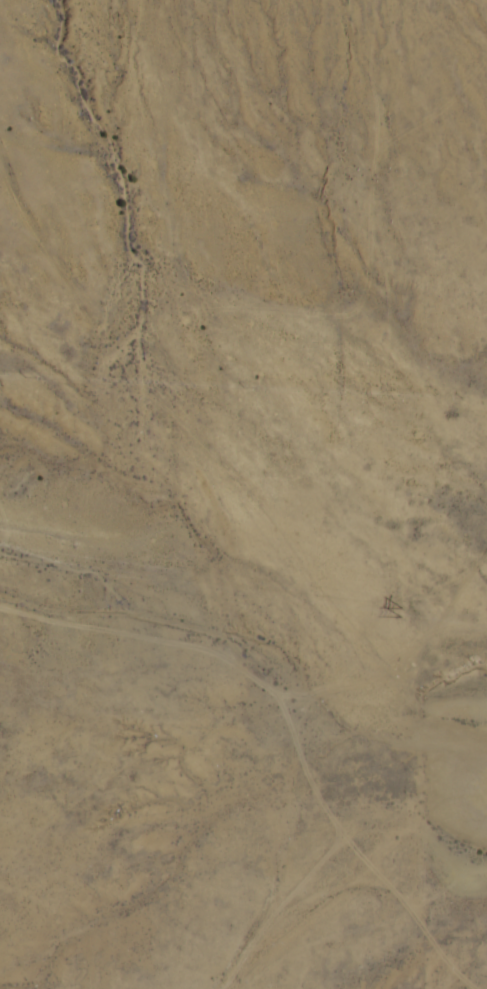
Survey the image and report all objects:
power tower: (396, 613)
road: (341, 937)

